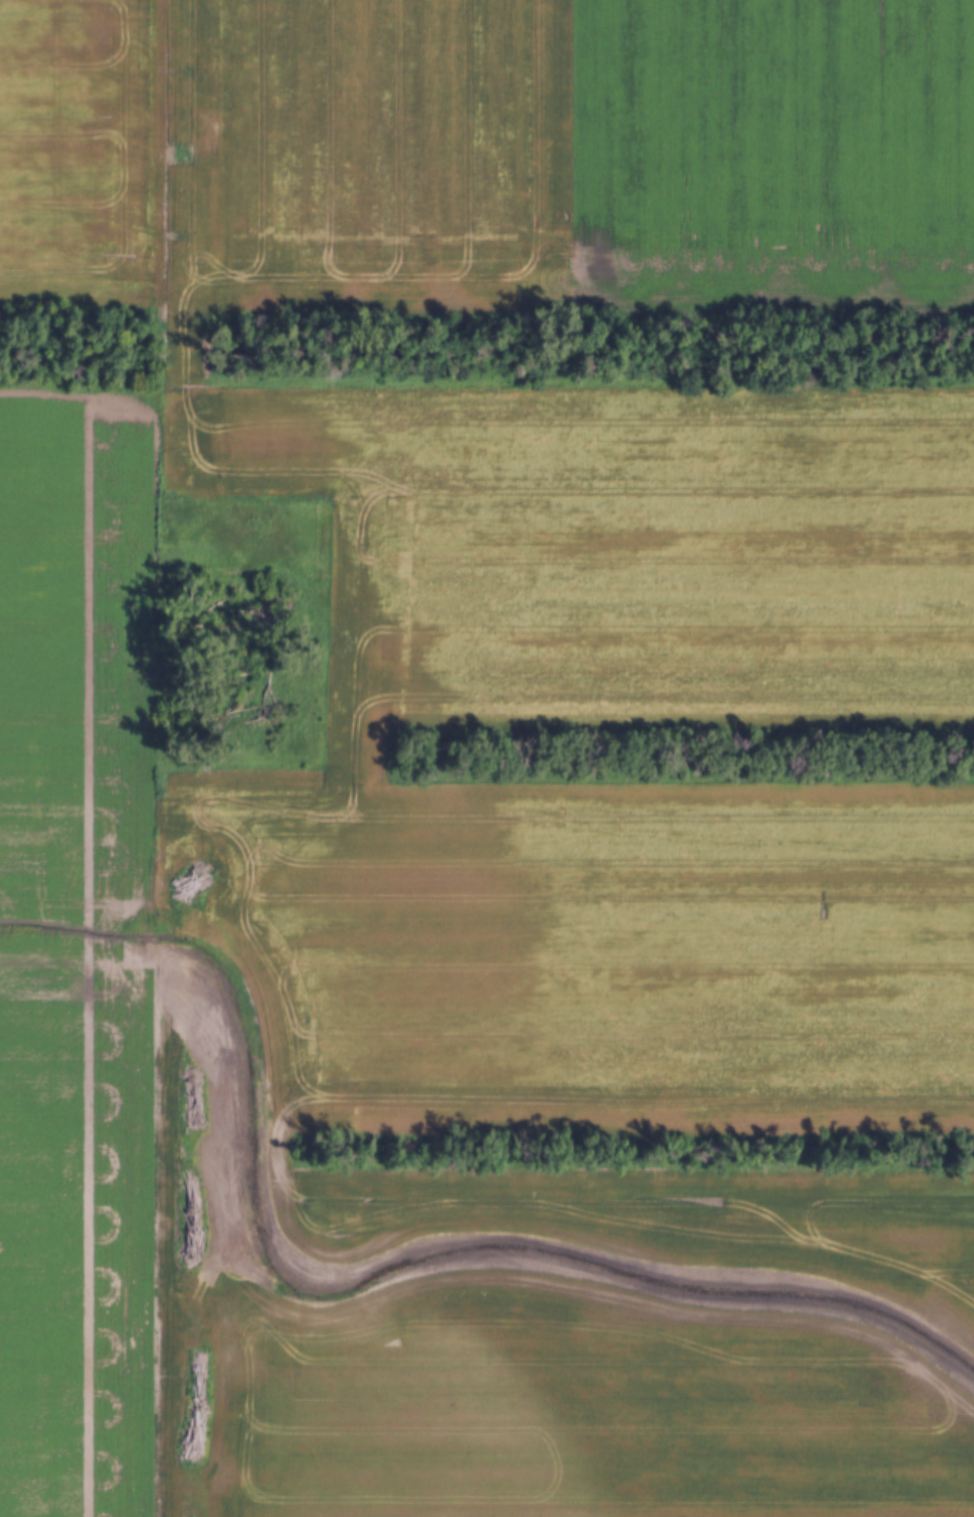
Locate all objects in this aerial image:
airport runway: (541, 135)

